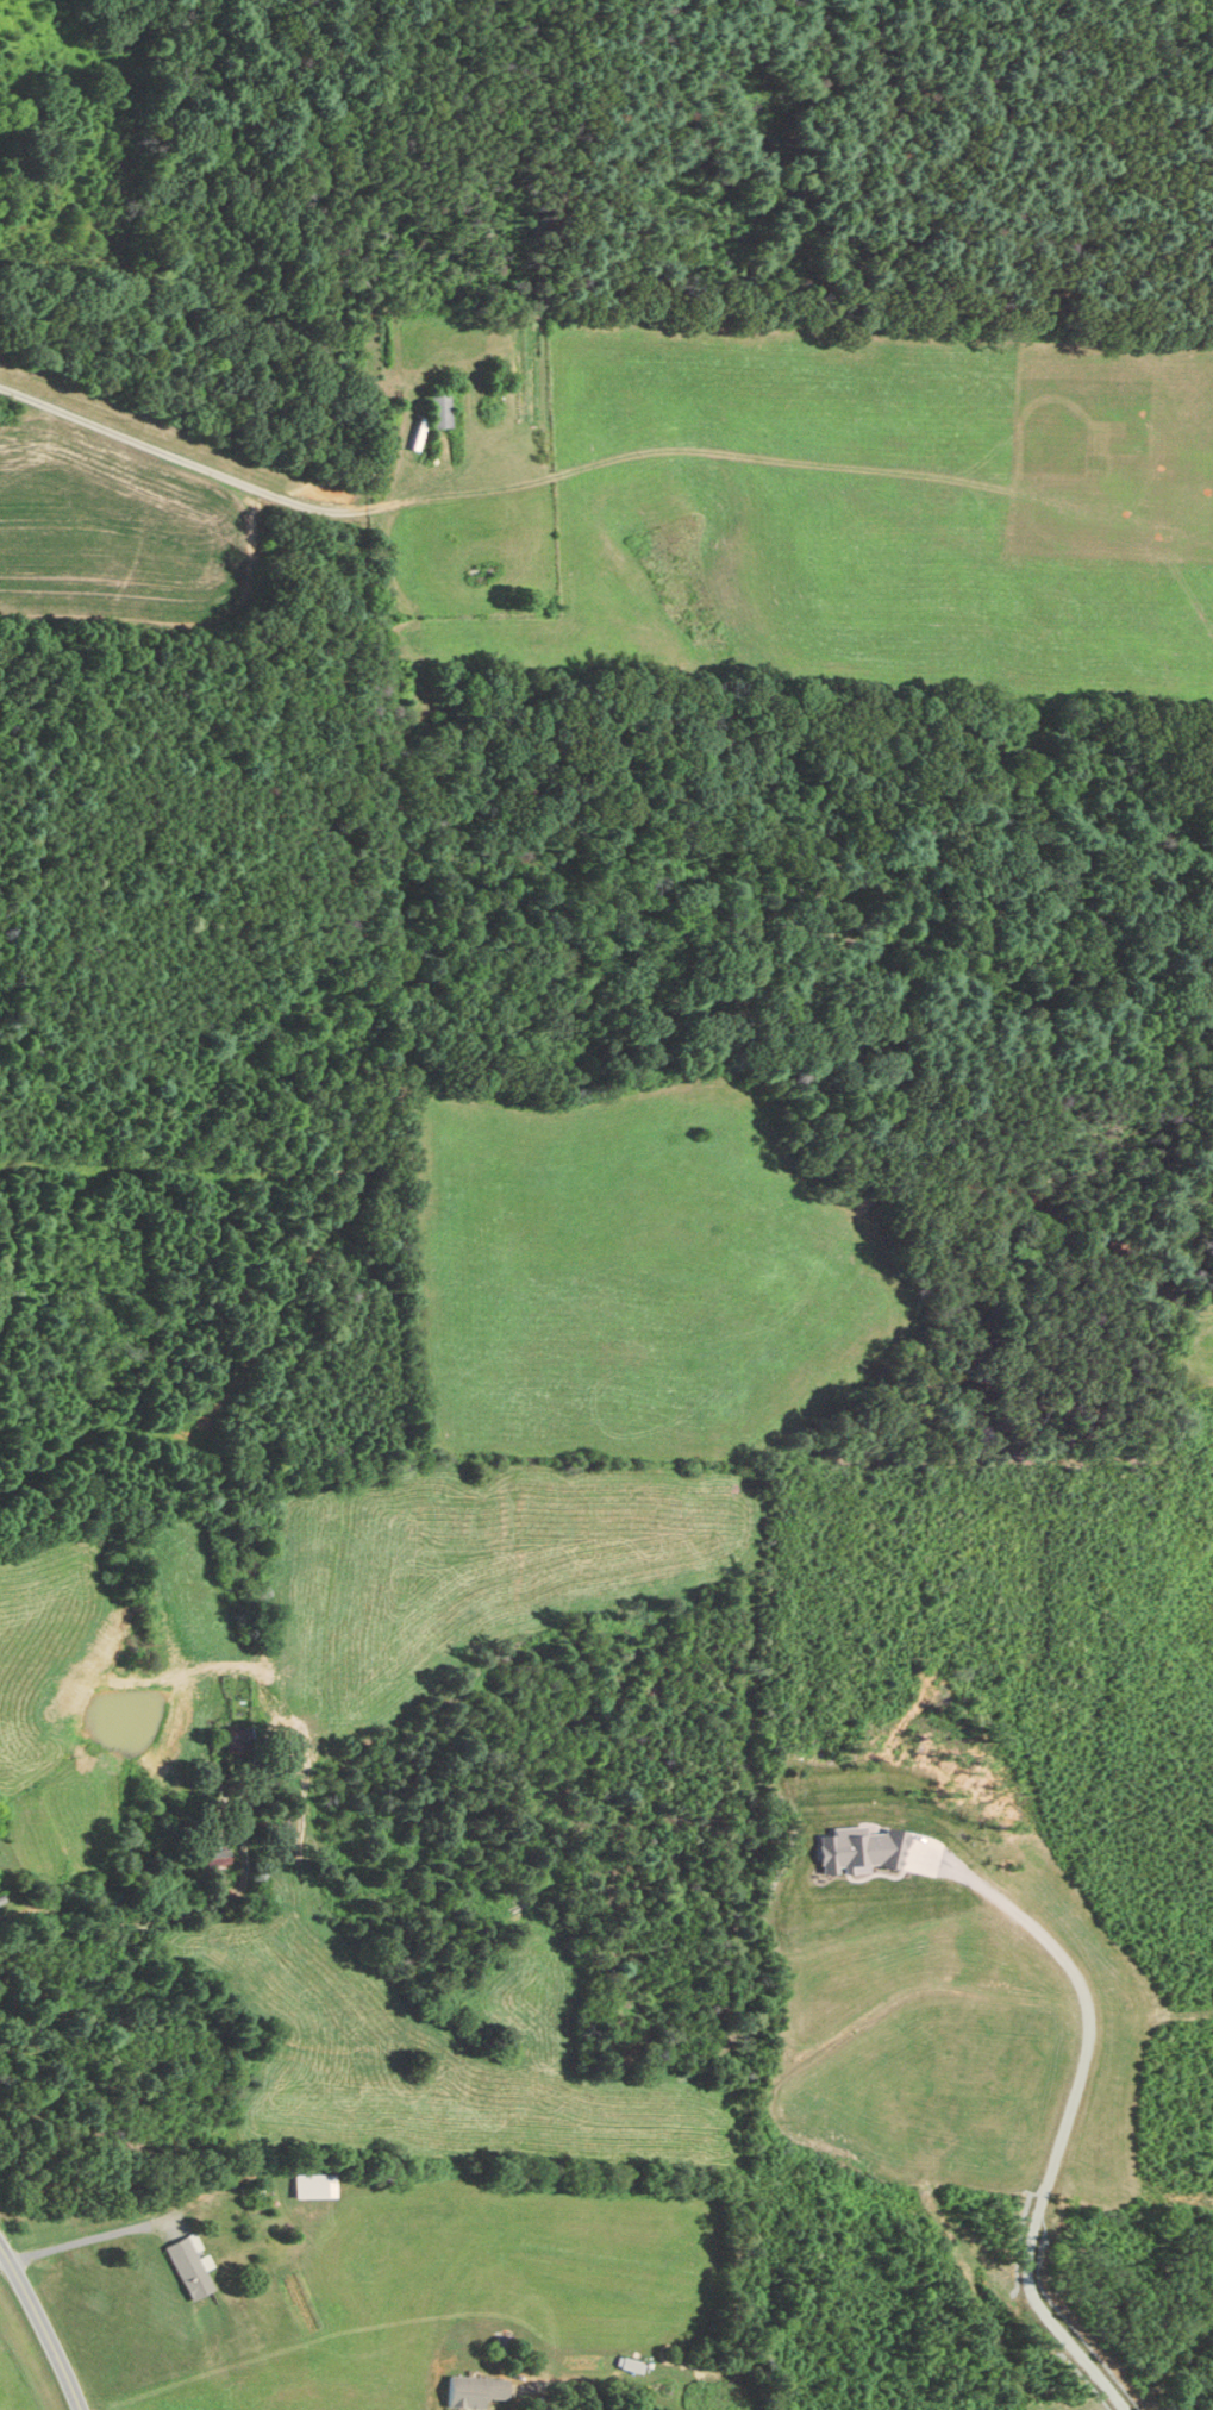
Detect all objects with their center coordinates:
building: (439, 408)
road: (167, 453)
building: (237, 1736)
road: (1068, 2108)
road: (81, 2240)
road: (2, 2258)
building: (188, 2270)
road: (43, 2326)
building: (629, 2365)
road: (580, 2387)
road: (1194, 2389)

